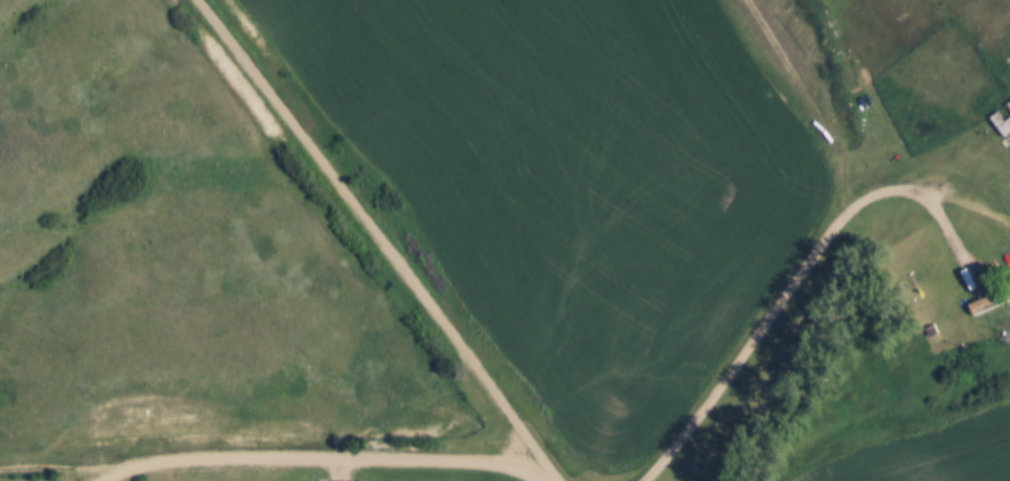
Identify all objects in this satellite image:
road: (814, 102)
building: (1003, 120)
road: (383, 234)
road: (795, 274)
building: (990, 303)
road: (311, 459)
road: (522, 462)
road: (68, 464)
road: (345, 470)
road: (122, 471)
road: (559, 477)

